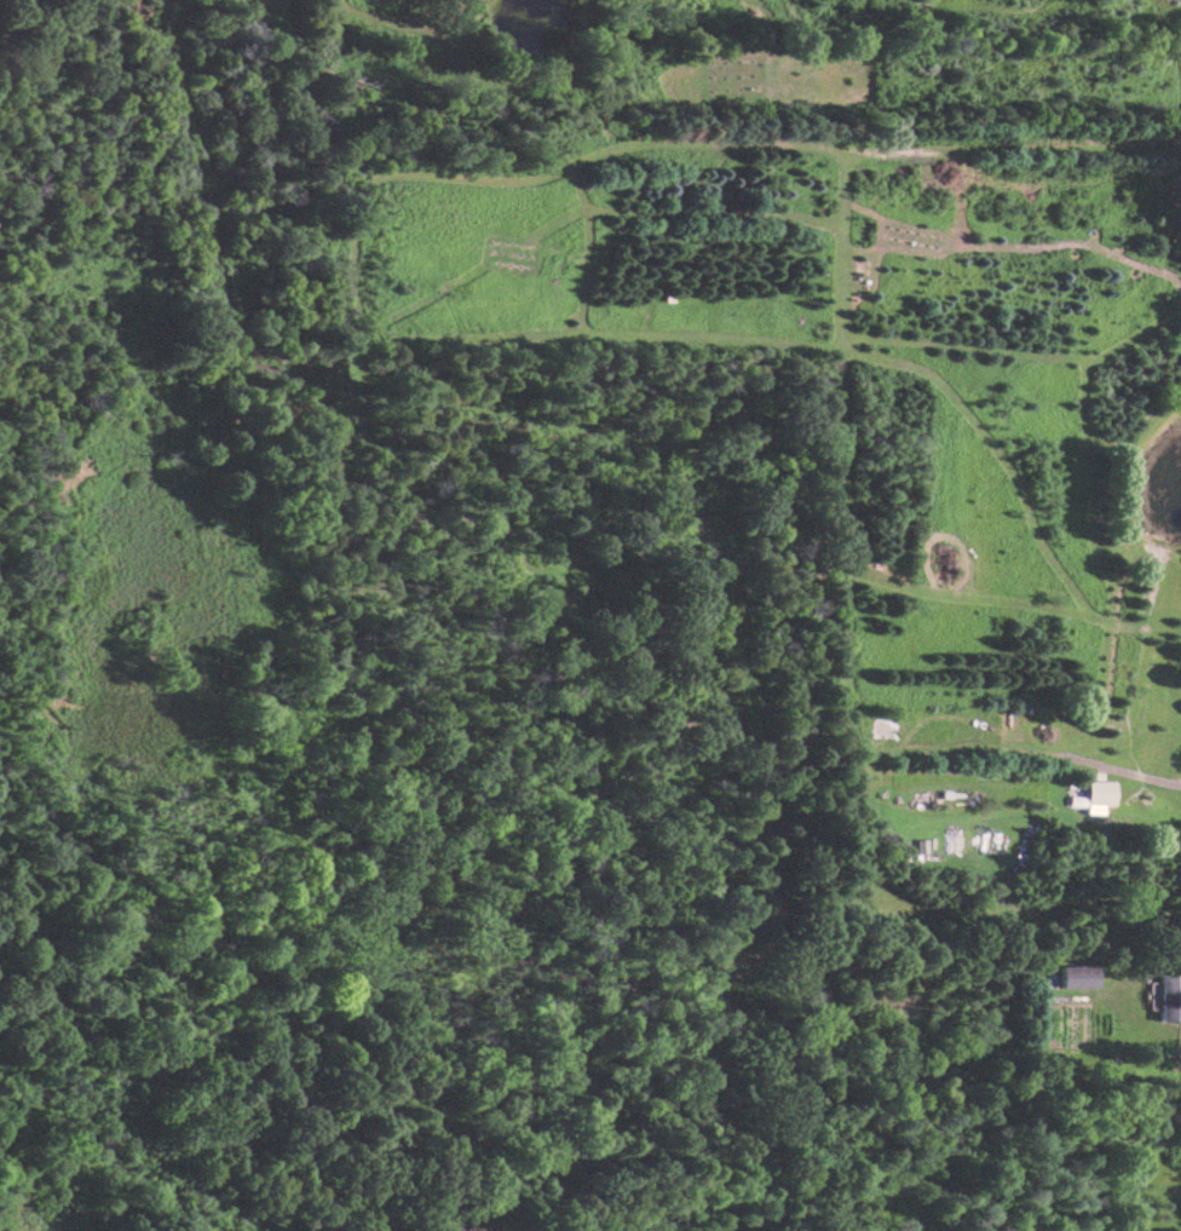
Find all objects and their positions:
building: (1090, 796)
building: (1072, 976)

